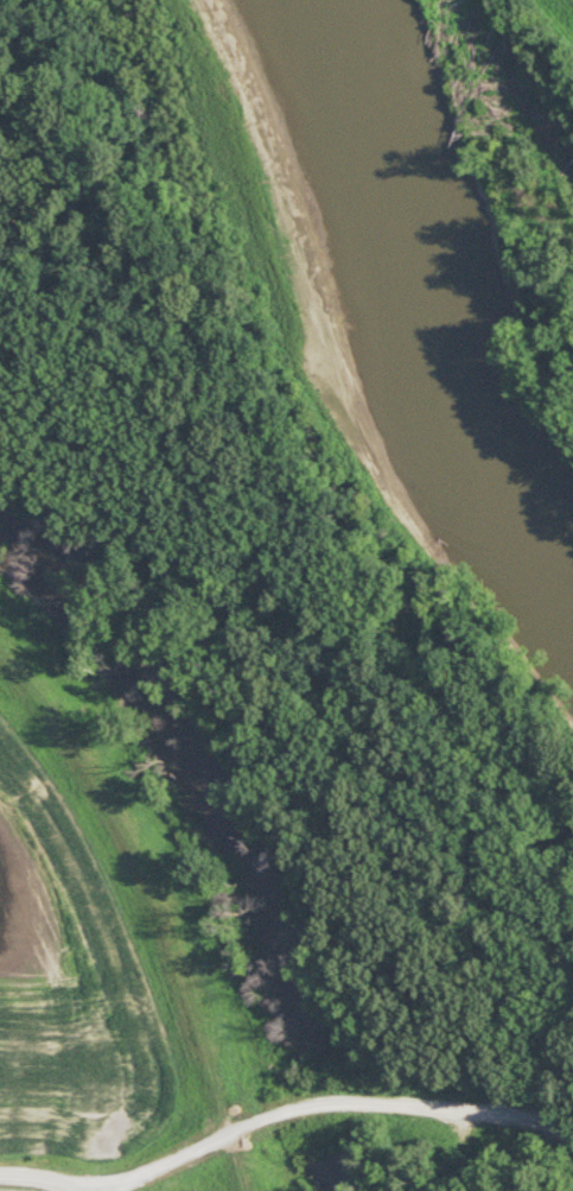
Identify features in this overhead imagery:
river: (374, 317)
road: (43, 1178)

